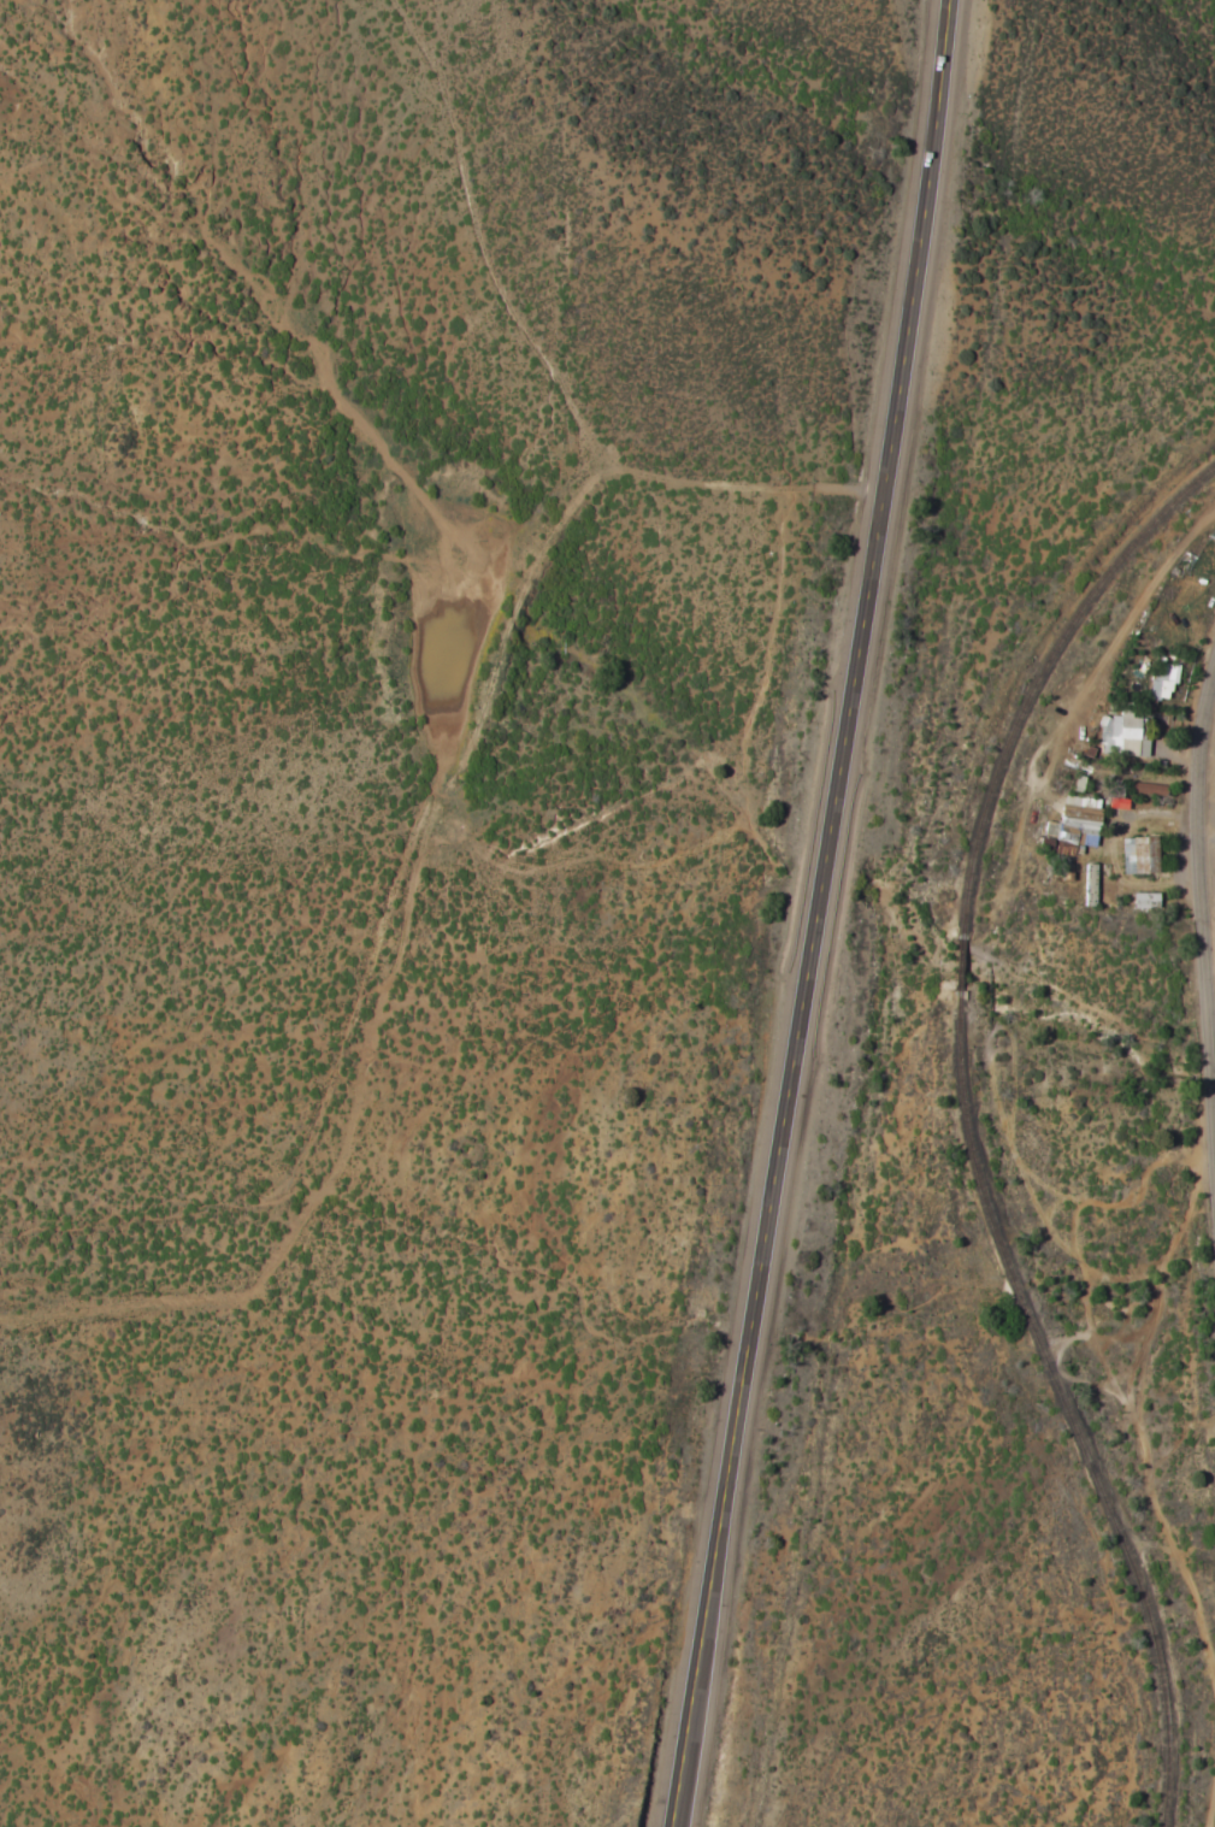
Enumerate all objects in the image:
railway: (1040, 677)
building: (1161, 682)
building: (1122, 737)
building: (1146, 789)
building: (1116, 803)
building: (1073, 825)
road: (1204, 855)
building: (1136, 856)
road: (1210, 860)
building: (1143, 901)
road: (815, 914)
railway: (959, 963)
railway: (1066, 1408)

